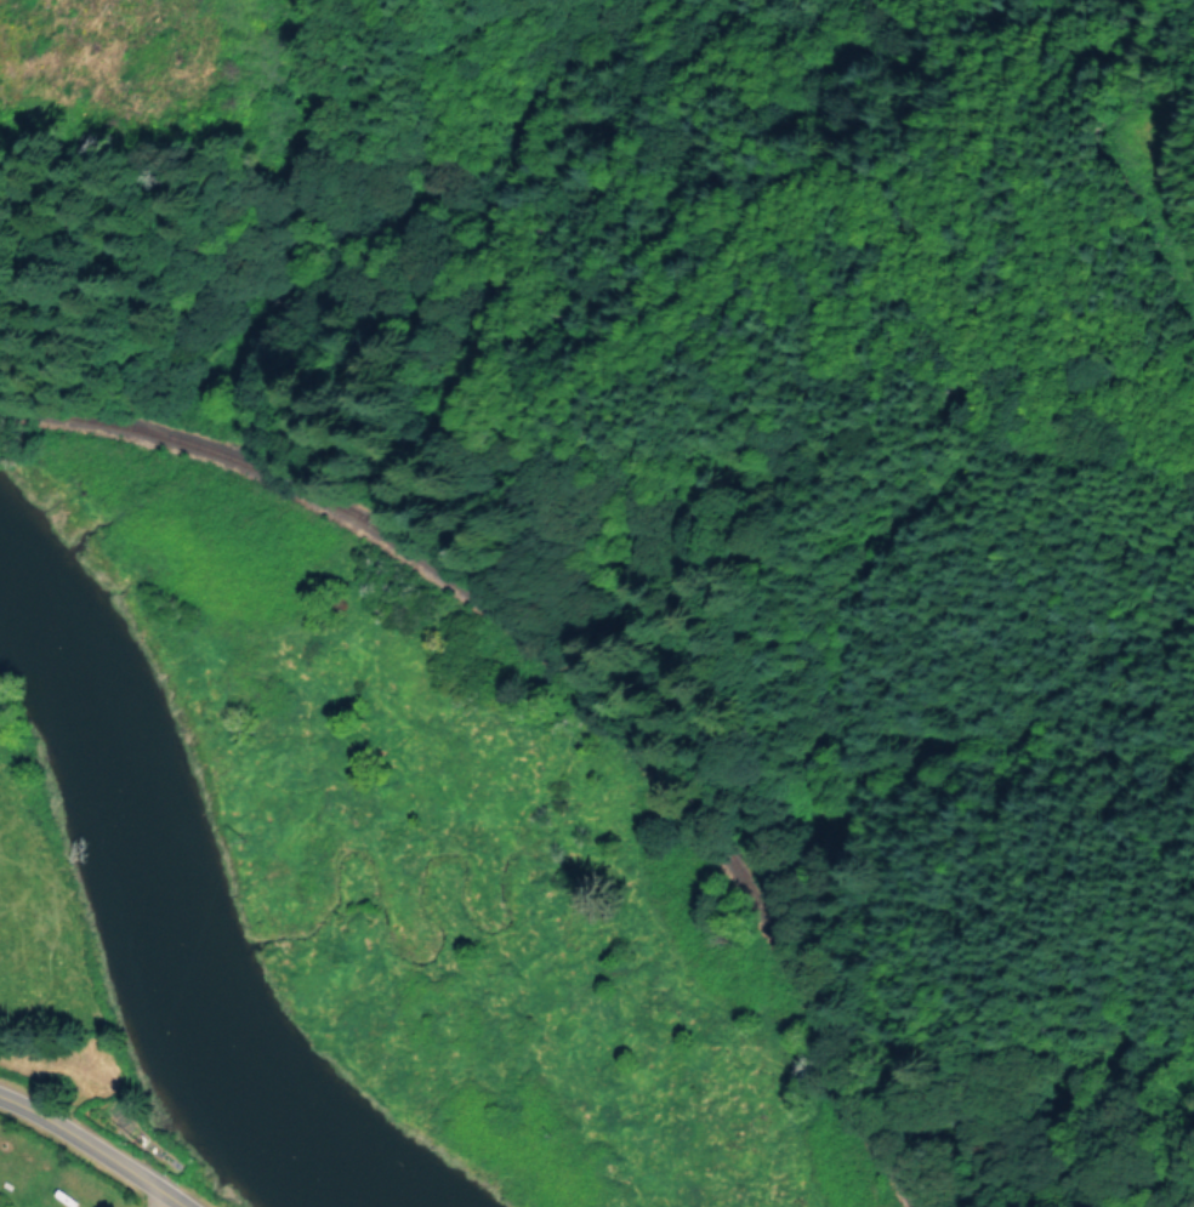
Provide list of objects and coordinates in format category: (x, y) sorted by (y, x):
road: (1162, 237)
railway: (563, 674)
river: (161, 903)
road: (93, 1149)
road: (150, 1197)

